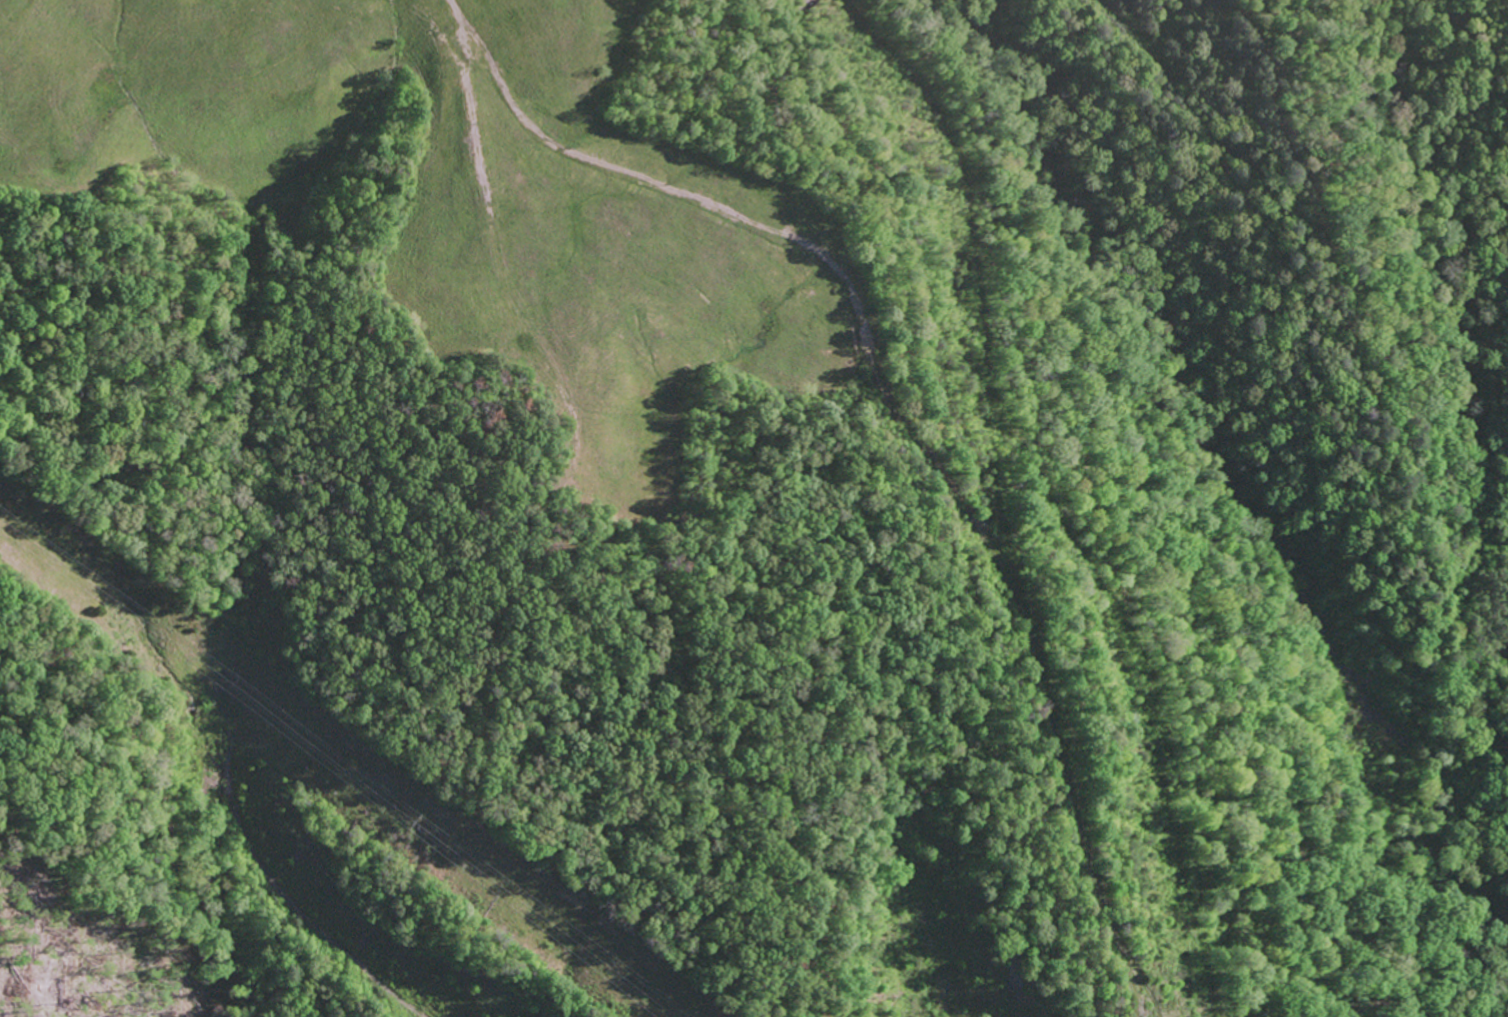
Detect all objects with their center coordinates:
road: (672, 186)
power tower: (408, 821)

